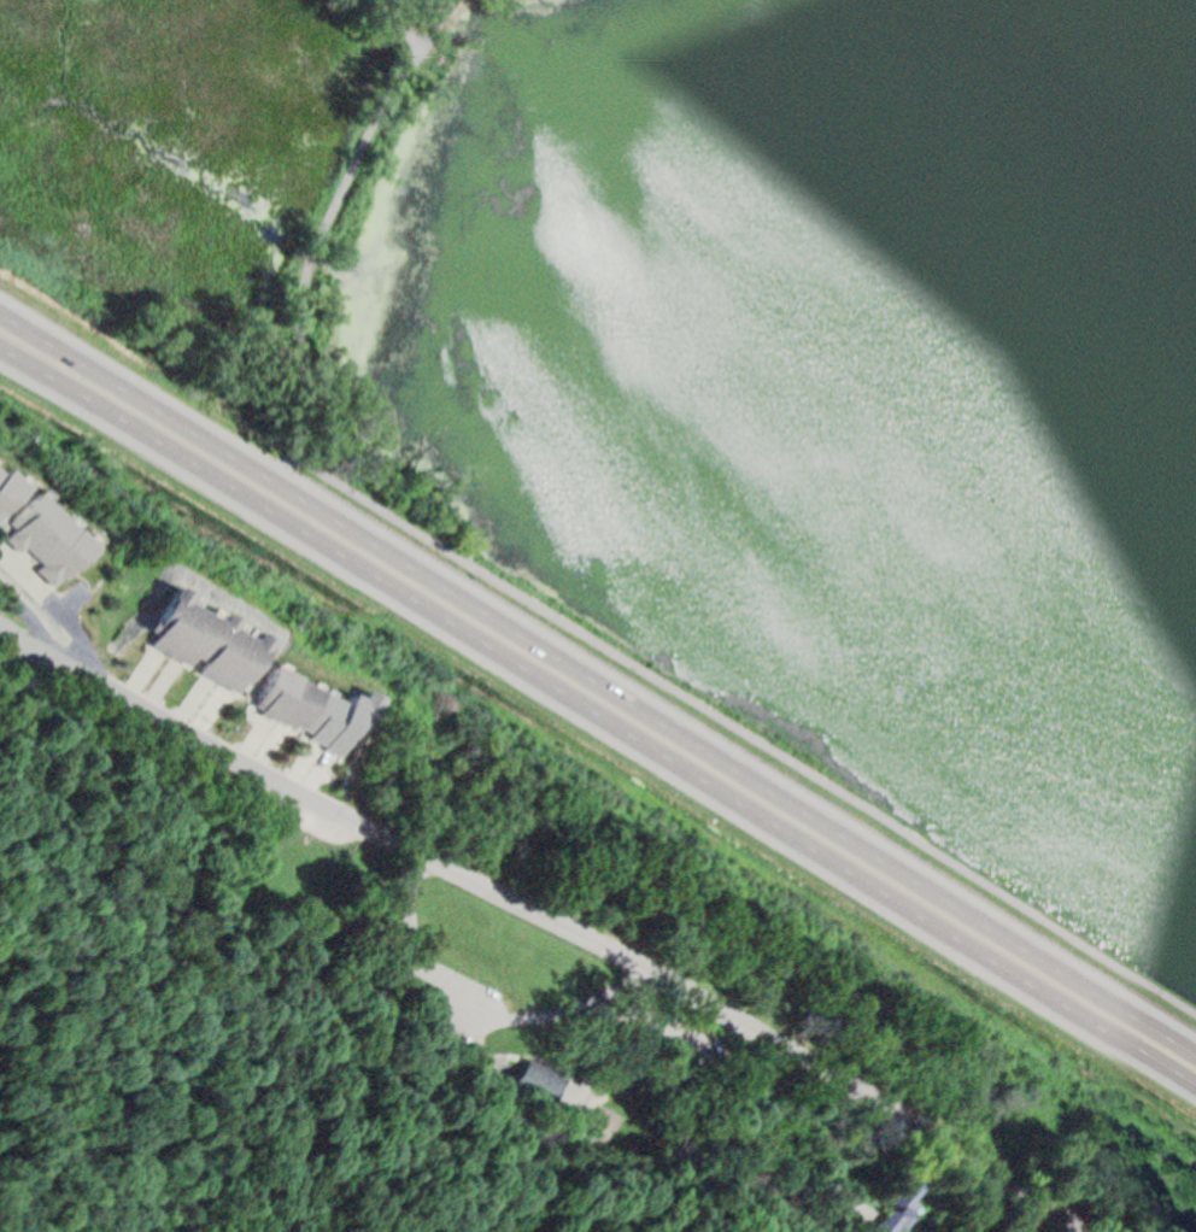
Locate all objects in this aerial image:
river: (464, 10)
road: (447, 16)
road: (399, 24)
road: (427, 40)
river: (829, 170)
park: (805, 397)
building: (10, 486)
building: (54, 544)
road: (559, 618)
building: (213, 640)
road: (597, 681)
building: (319, 705)
road: (598, 712)
parking lot: (327, 822)
road: (193, 829)
road: (549, 921)
road: (410, 988)
park: (351, 997)
road: (311, 998)
parking lot: (459, 998)
road: (485, 1013)
road: (258, 1016)
road: (669, 1033)
road: (590, 1036)
parking lot: (679, 1038)
road: (488, 1049)
road: (535, 1055)
road: (767, 1061)
road: (549, 1066)
building: (537, 1085)
parking lot: (581, 1092)
road: (488, 1132)
building: (905, 1204)

